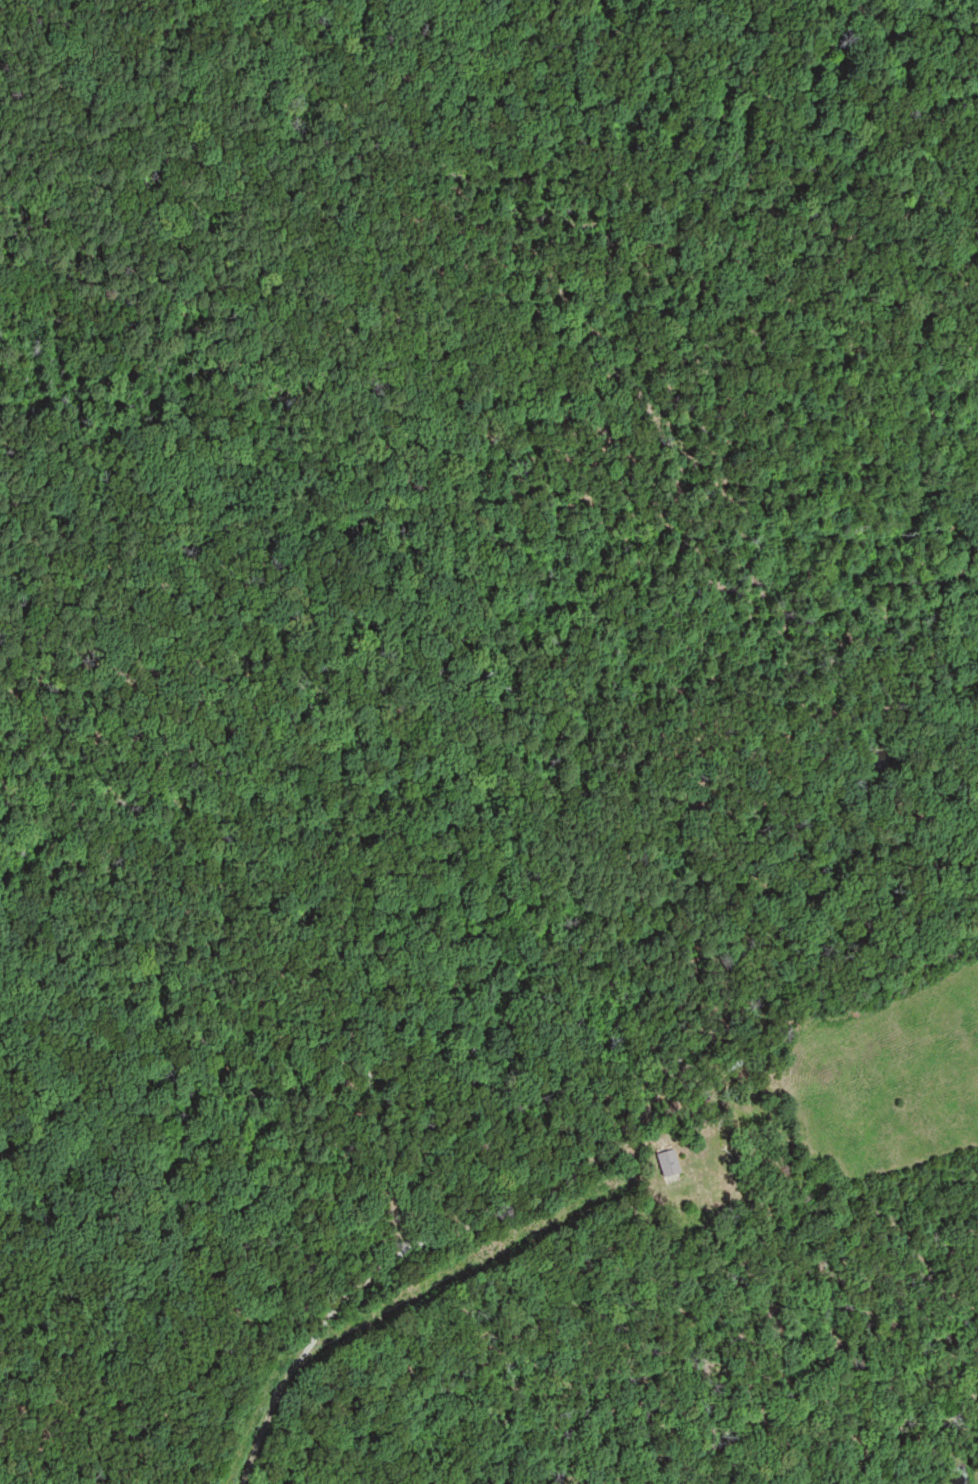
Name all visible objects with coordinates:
building: (665, 1162)
road: (373, 1306)

